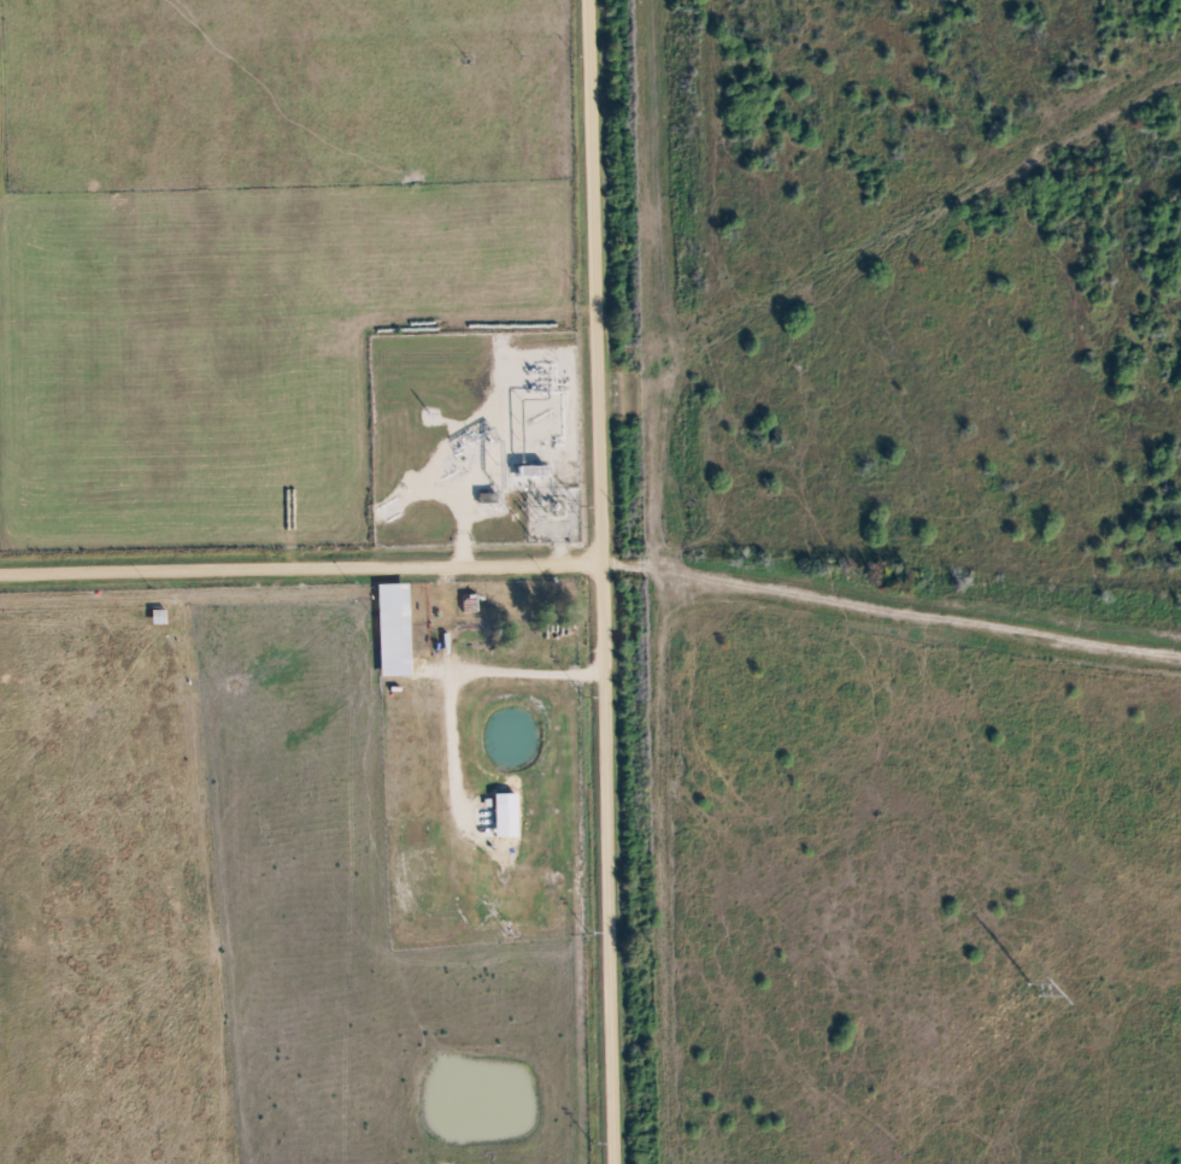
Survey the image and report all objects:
power substation: (553, 513)
road: (590, 562)
road: (603, 581)
building: (389, 629)
building: (501, 815)
building: (482, 822)
power tower: (1029, 989)

